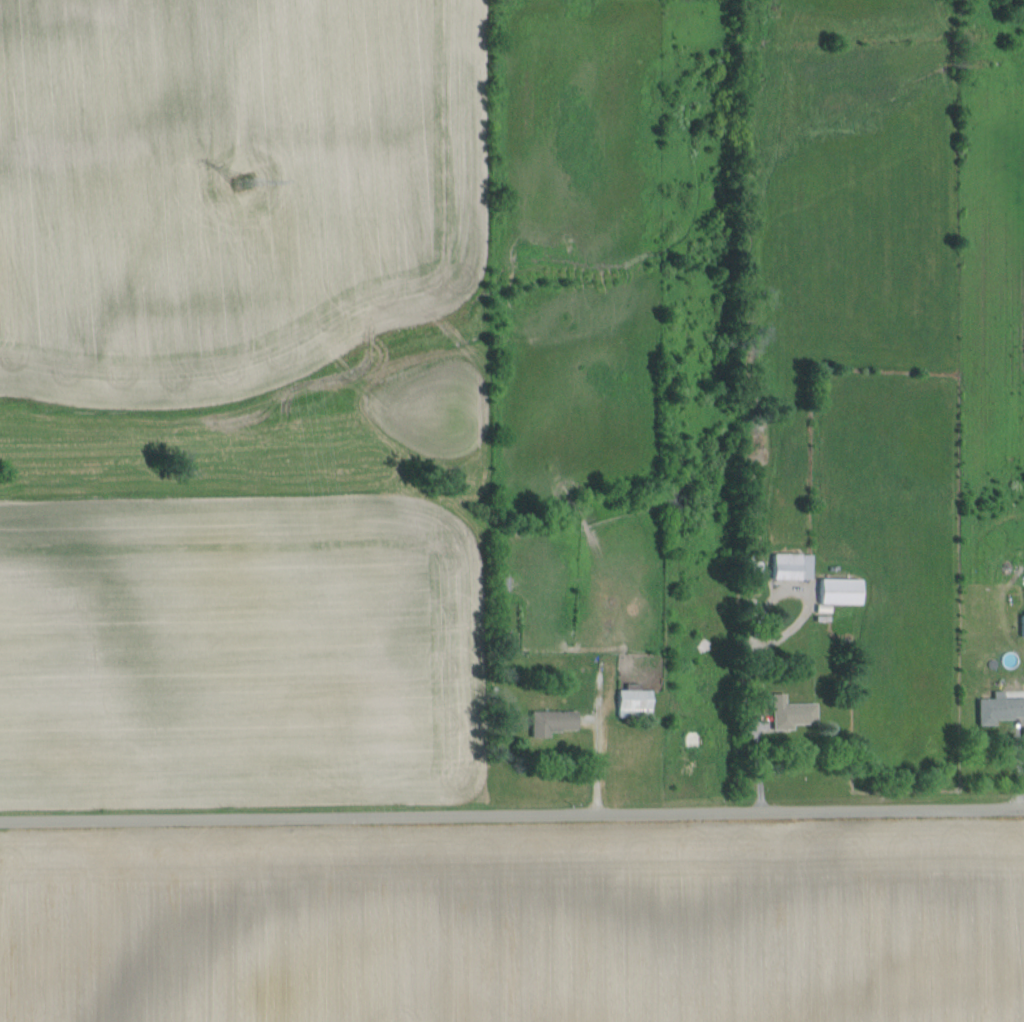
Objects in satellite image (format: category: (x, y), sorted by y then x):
power tower: (243, 203)
building: (792, 566)
building: (840, 590)
building: (1022, 626)
road: (751, 640)
building: (634, 701)
building: (1000, 708)
building: (791, 713)
building: (553, 722)
road: (596, 749)
road: (511, 811)

